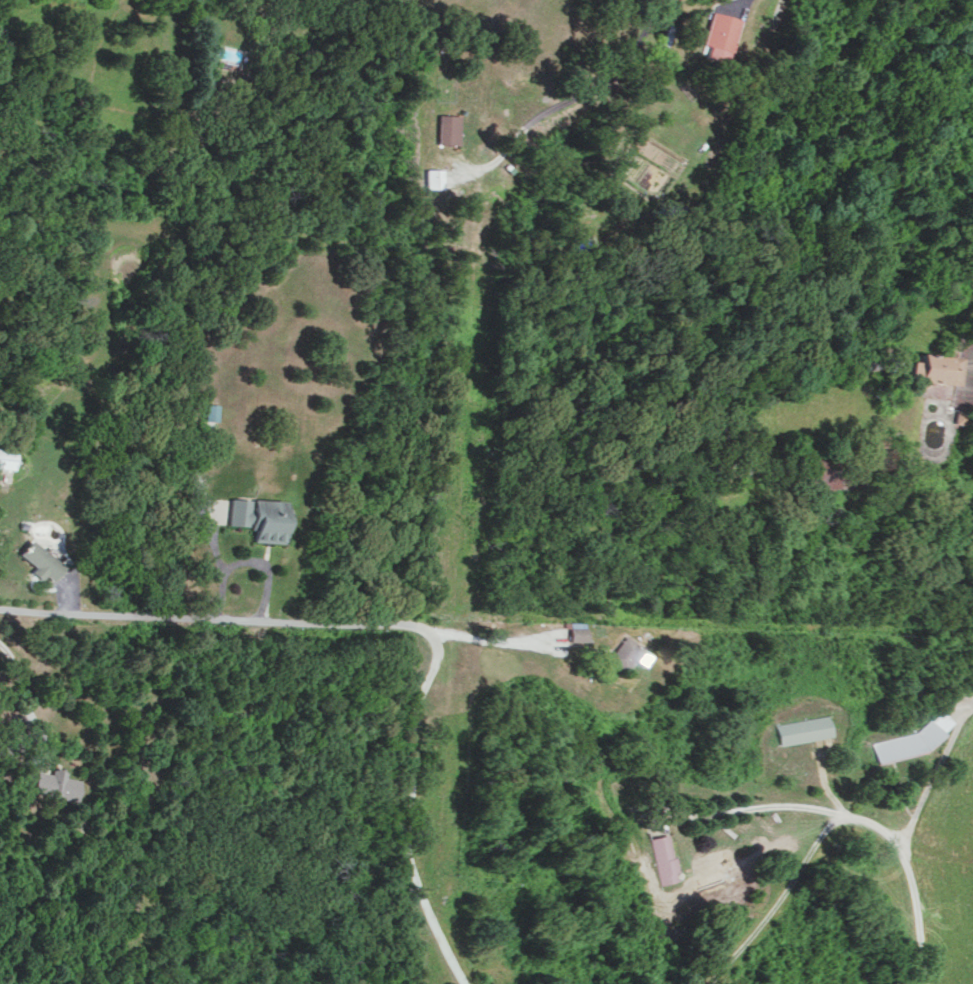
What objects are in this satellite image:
building: (718, 35)
building: (448, 127)
road: (584, 128)
building: (433, 177)
building: (932, 367)
building: (955, 415)
building: (6, 457)
building: (257, 516)
building: (39, 560)
road: (9, 611)
road: (411, 625)
building: (575, 630)
road: (491, 640)
road: (30, 692)
building: (801, 729)
building: (911, 737)
road: (928, 773)
building: (56, 784)
road: (766, 809)
road: (830, 822)
building: (663, 858)

